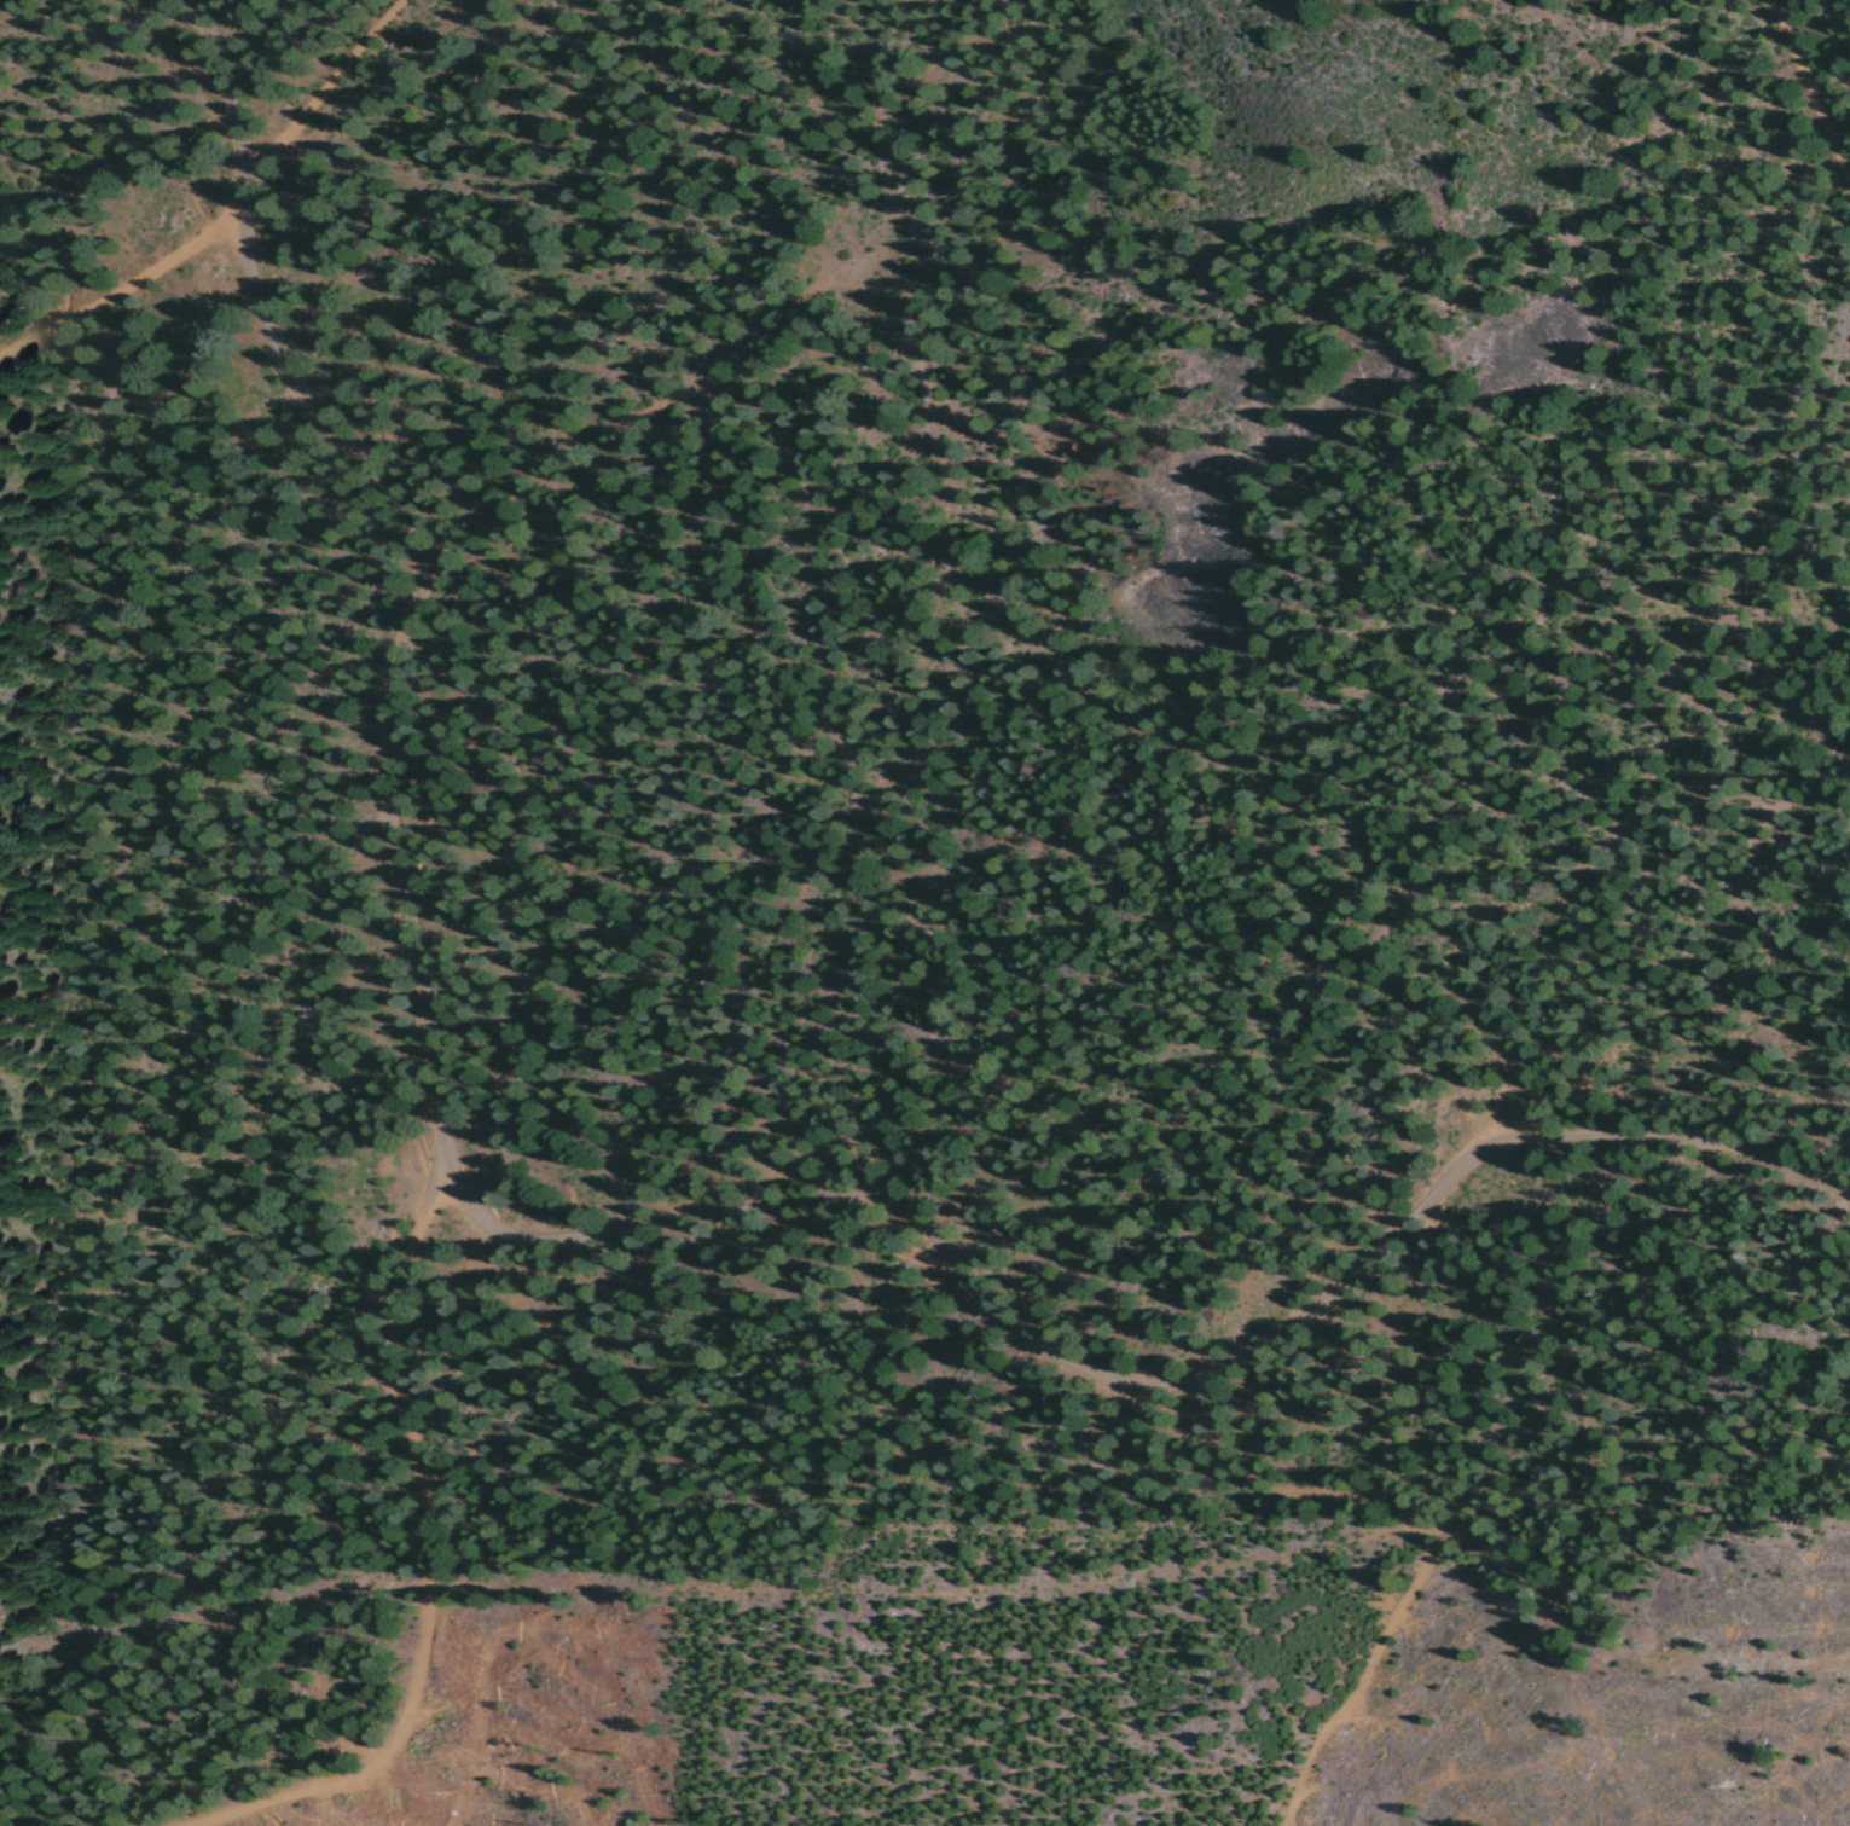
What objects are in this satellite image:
road: (1813, 87)
road: (233, 214)
road: (419, 943)
road: (1148, 1396)

